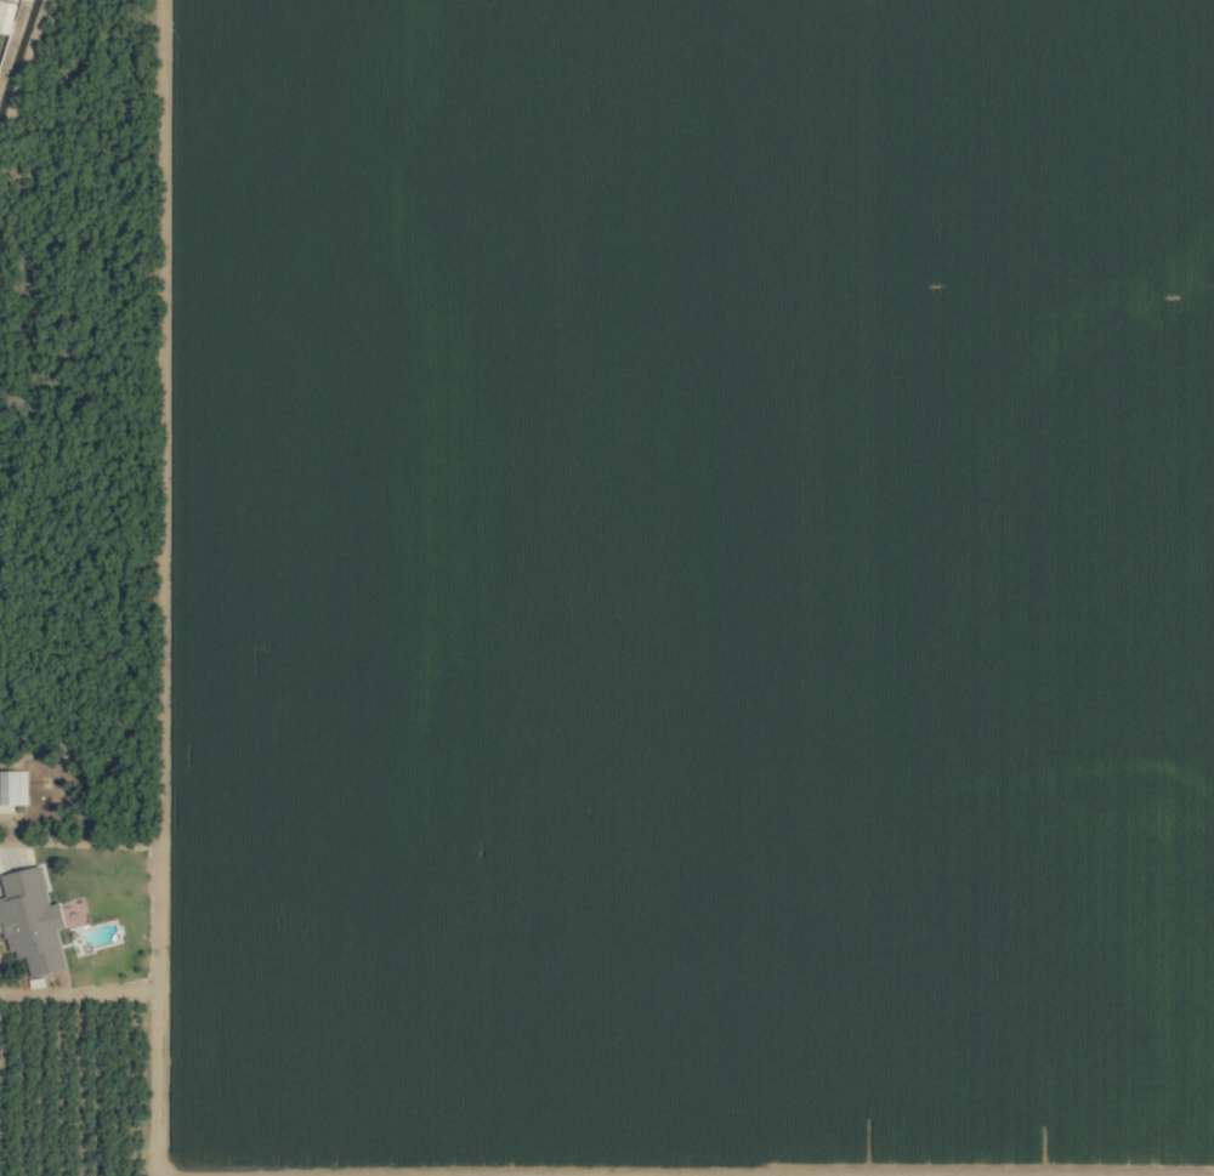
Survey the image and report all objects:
building: (6, 16)
crop: (607, 587)
building: (13, 786)
building: (32, 920)

